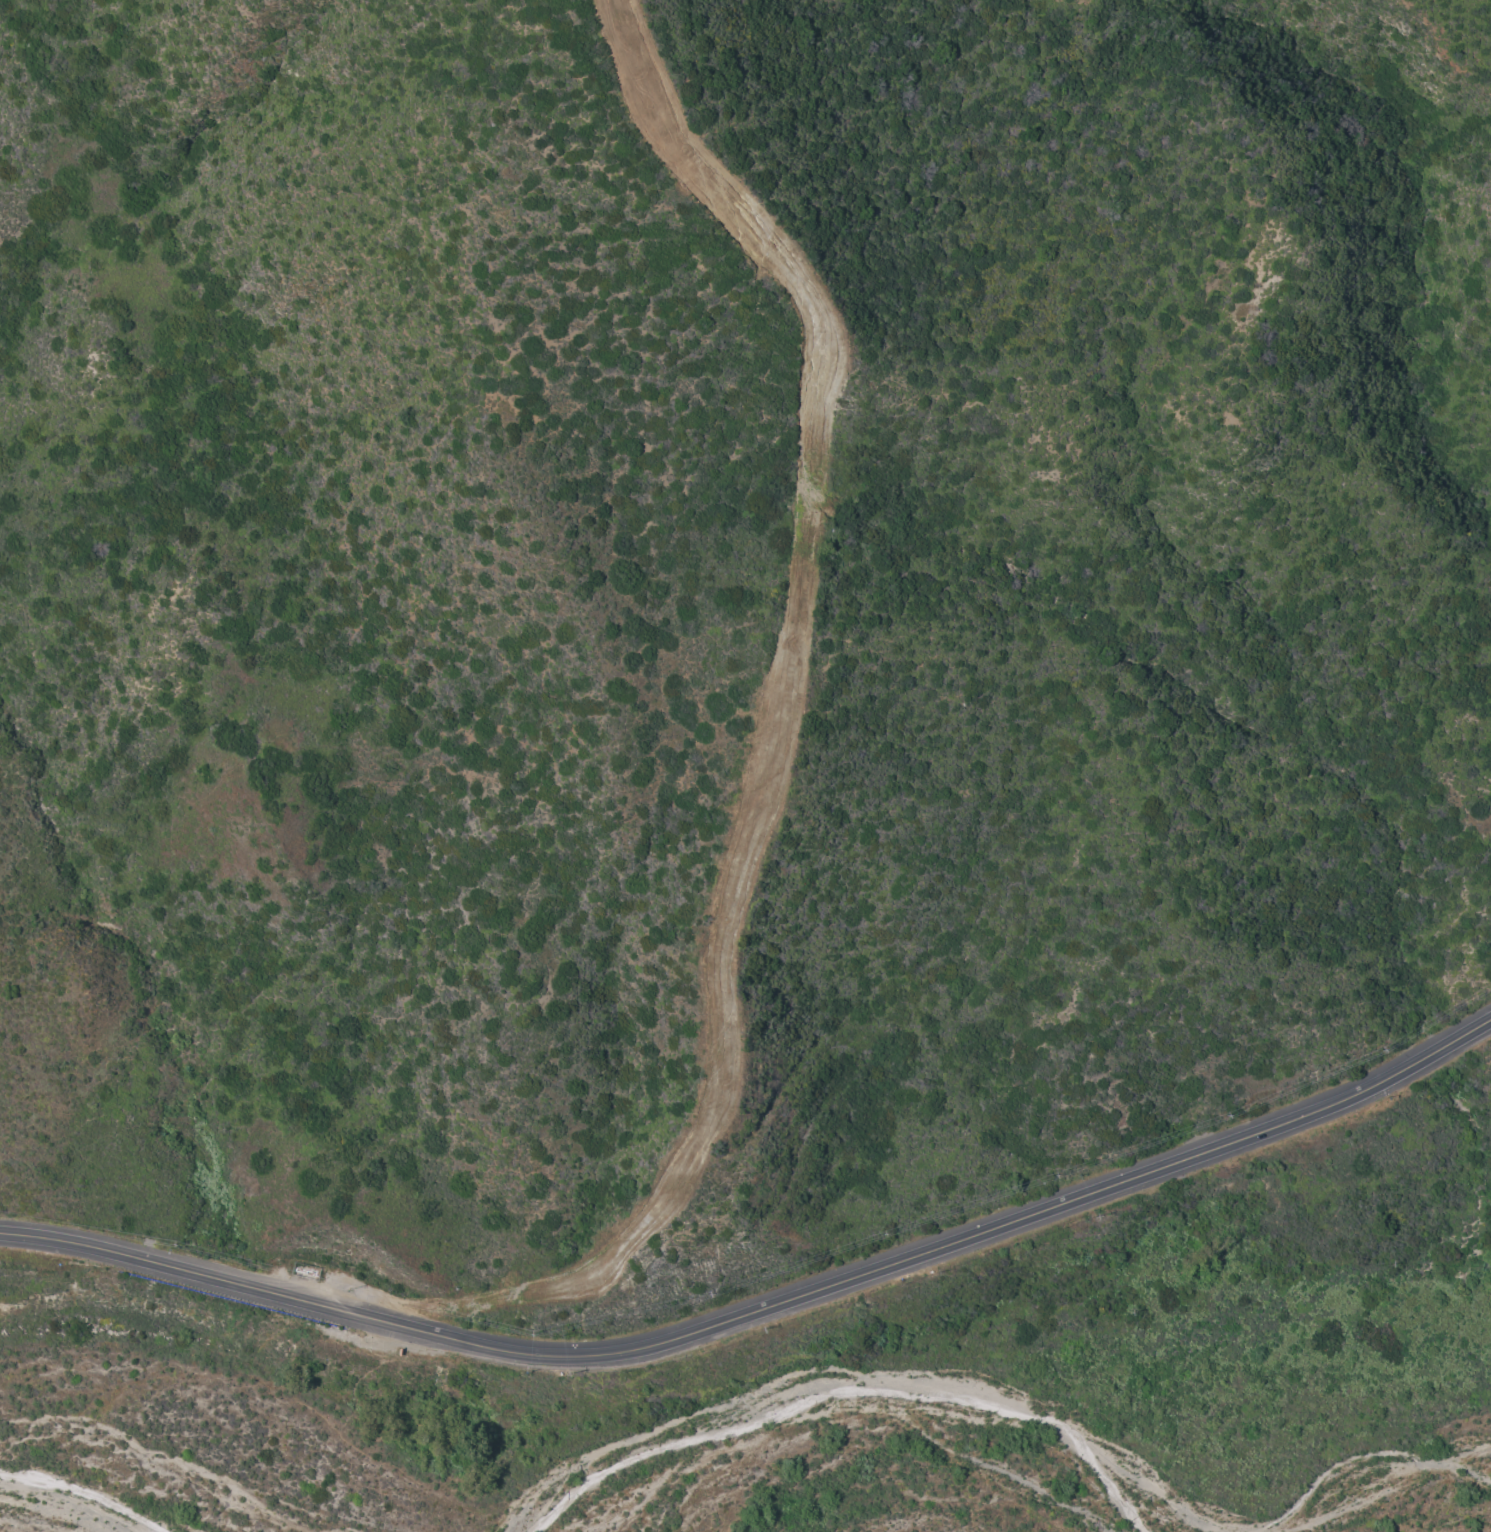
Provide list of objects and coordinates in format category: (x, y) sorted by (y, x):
road: (778, 726)
road: (1443, 1043)
road: (1364, 1088)
road: (1211, 1147)
road: (82, 1243)
road: (925, 1249)
road: (268, 1290)
road: (725, 1321)
road: (426, 1331)
road: (586, 1355)
road: (1016, 1407)
road: (73, 1502)

